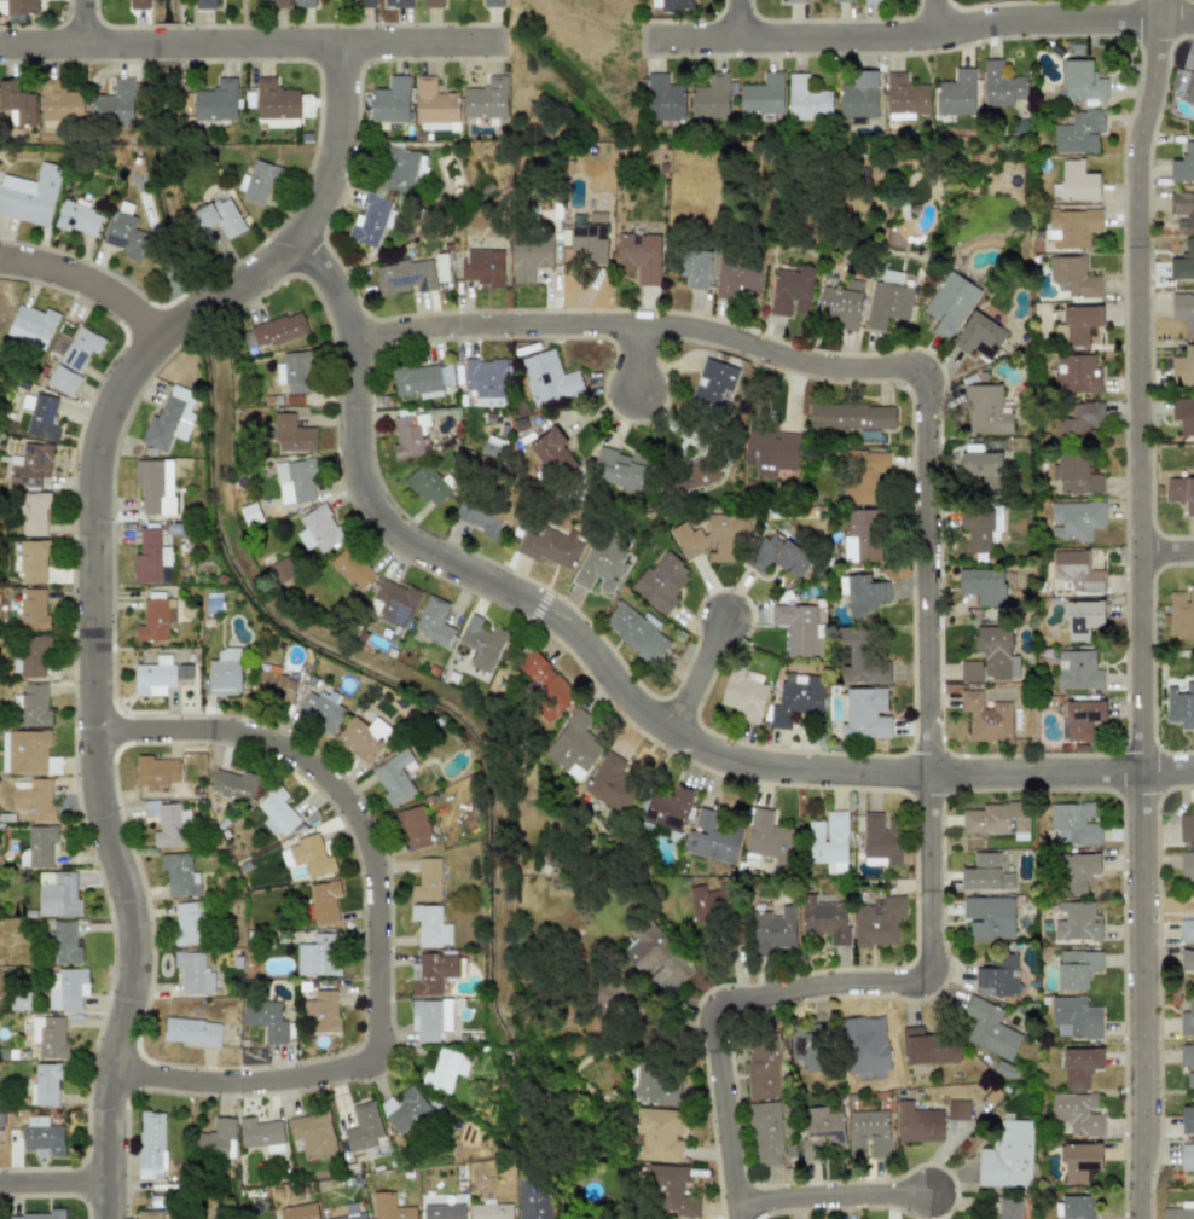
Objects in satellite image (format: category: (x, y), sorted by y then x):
building: (841, 0)
building: (794, 1)
building: (871, 1)
building: (277, 2)
building: (363, 2)
building: (431, 2)
building: (203, 4)
building: (305, 4)
building: (396, 4)
building: (492, 4)
building: (137, 5)
building: (671, 5)
building: (19, 6)
road: (937, 22)
road: (742, 24)
road: (87, 27)
road: (922, 46)
road: (257, 52)
building: (1080, 81)
building: (1001, 86)
building: (1190, 87)
building: (761, 94)
building: (956, 94)
building: (858, 95)
building: (711, 97)
building: (905, 98)
building: (486, 99)
building: (663, 99)
building: (806, 99)
building: (215, 100)
building: (390, 100)
building: (17, 101)
building: (59, 103)
building: (112, 103)
building: (434, 106)
building: (1078, 133)
building: (1183, 164)
building: (399, 170)
building: (256, 181)
building: (1077, 181)
building: (29, 196)
building: (1182, 211)
building: (219, 216)
building: (77, 219)
building: (370, 220)
building: (1072, 227)
building: (124, 236)
building: (589, 236)
building: (529, 256)
building: (639, 257)
building: (1183, 259)
building: (481, 267)
building: (695, 268)
building: (405, 277)
building: (891, 277)
building: (1072, 277)
building: (735, 280)
road: (93, 289)
building: (789, 291)
building: (949, 302)
building: (887, 303)
building: (841, 304)
building: (1183, 310)
building: (1078, 323)
building: (31, 325)
building: (273, 331)
building: (979, 336)
building: (75, 347)
road: (644, 362)
building: (1183, 367)
building: (294, 372)
building: (1076, 373)
building: (549, 378)
building: (422, 379)
building: (62, 381)
building: (486, 381)
building: (711, 388)
building: (985, 410)
building: (1183, 414)
building: (41, 417)
building: (851, 417)
building: (168, 420)
building: (1078, 420)
building: (291, 434)
building: (408, 435)
building: (770, 452)
building: (552, 453)
building: (29, 465)
building: (619, 469)
building: (980, 469)
building: (692, 474)
building: (863, 475)
building: (1077, 475)
building: (294, 482)
building: (155, 486)
building: (427, 486)
building: (1181, 493)
building: (31, 512)
building: (479, 519)
building: (1076, 519)
building: (980, 528)
building: (318, 529)
building: (862, 535)
building: (711, 538)
building: (549, 547)
road: (1167, 550)
building: (776, 555)
building: (150, 556)
building: (33, 561)
building: (599, 567)
building: (352, 568)
building: (1077, 570)
building: (661, 582)
building: (984, 586)
road: (104, 591)
building: (862, 593)
road: (933, 602)
building: (393, 603)
road: (1141, 608)
building: (33, 609)
building: (1181, 613)
building: (1082, 619)
building: (155, 620)
building: (433, 620)
building: (796, 627)
building: (636, 631)
building: (480, 643)
building: (996, 652)
building: (30, 655)
building: (862, 658)
building: (970, 671)
building: (1077, 671)
building: (184, 672)
building: (224, 672)
road: (697, 675)
building: (153, 677)
building: (272, 686)
building: (545, 686)
road: (625, 690)
building: (743, 697)
building: (796, 700)
building: (31, 704)
building: (1179, 706)
building: (320, 709)
building: (865, 714)
building: (986, 718)
building: (1080, 720)
building: (363, 737)
building: (574, 745)
building: (25, 751)
building: (156, 771)
building: (393, 777)
building: (610, 783)
building: (232, 784)
building: (31, 797)
building: (668, 809)
building: (276, 812)
building: (995, 818)
building: (167, 823)
building: (1073, 823)
building: (1186, 826)
building: (413, 828)
building: (881, 836)
building: (711, 837)
building: (767, 837)
building: (828, 837)
building: (37, 847)
building: (309, 857)
building: (1187, 865)
building: (1078, 872)
building: (985, 873)
building: (179, 875)
building: (427, 880)
building: (57, 894)
building: (706, 901)
building: (321, 902)
building: (989, 917)
building: (824, 919)
building: (189, 922)
building: (877, 922)
building: (1077, 922)
building: (430, 925)
road: (384, 929)
building: (772, 930)
building: (1186, 930)
building: (63, 942)
building: (655, 952)
building: (317, 956)
building: (1187, 960)
building: (1077, 968)
building: (431, 971)
building: (192, 973)
building: (998, 976)
building: (65, 988)
building: (320, 1012)
building: (1074, 1017)
building: (266, 1018)
building: (429, 1018)
building: (1187, 1018)
building: (990, 1029)
building: (191, 1032)
building: (48, 1035)
building: (927, 1047)
building: (1187, 1063)
building: (1079, 1067)
building: (761, 1068)
building: (445, 1069)
building: (647, 1081)
building: (44, 1085)
building: (402, 1108)
building: (957, 1110)
building: (1077, 1113)
building: (1187, 1119)
building: (917, 1124)
building: (363, 1127)
building: (819, 1130)
building: (765, 1133)
building: (868, 1133)
building: (261, 1134)
building: (312, 1134)
building: (657, 1134)
building: (41, 1137)
building: (213, 1139)
building: (150, 1145)
building: (1007, 1156)
building: (1187, 1157)
building: (1080, 1161)
building: (671, 1190)
road: (57, 1192)
road: (833, 1197)
building: (532, 1203)
building: (390, 1207)
building: (1076, 1207)
building: (1007, 1208)
building: (489, 1211)
building: (298, 1212)
building: (444, 1212)
building: (1178, 1212)
building: (352, 1213)
building: (151, 1214)
building: (39, 1215)

